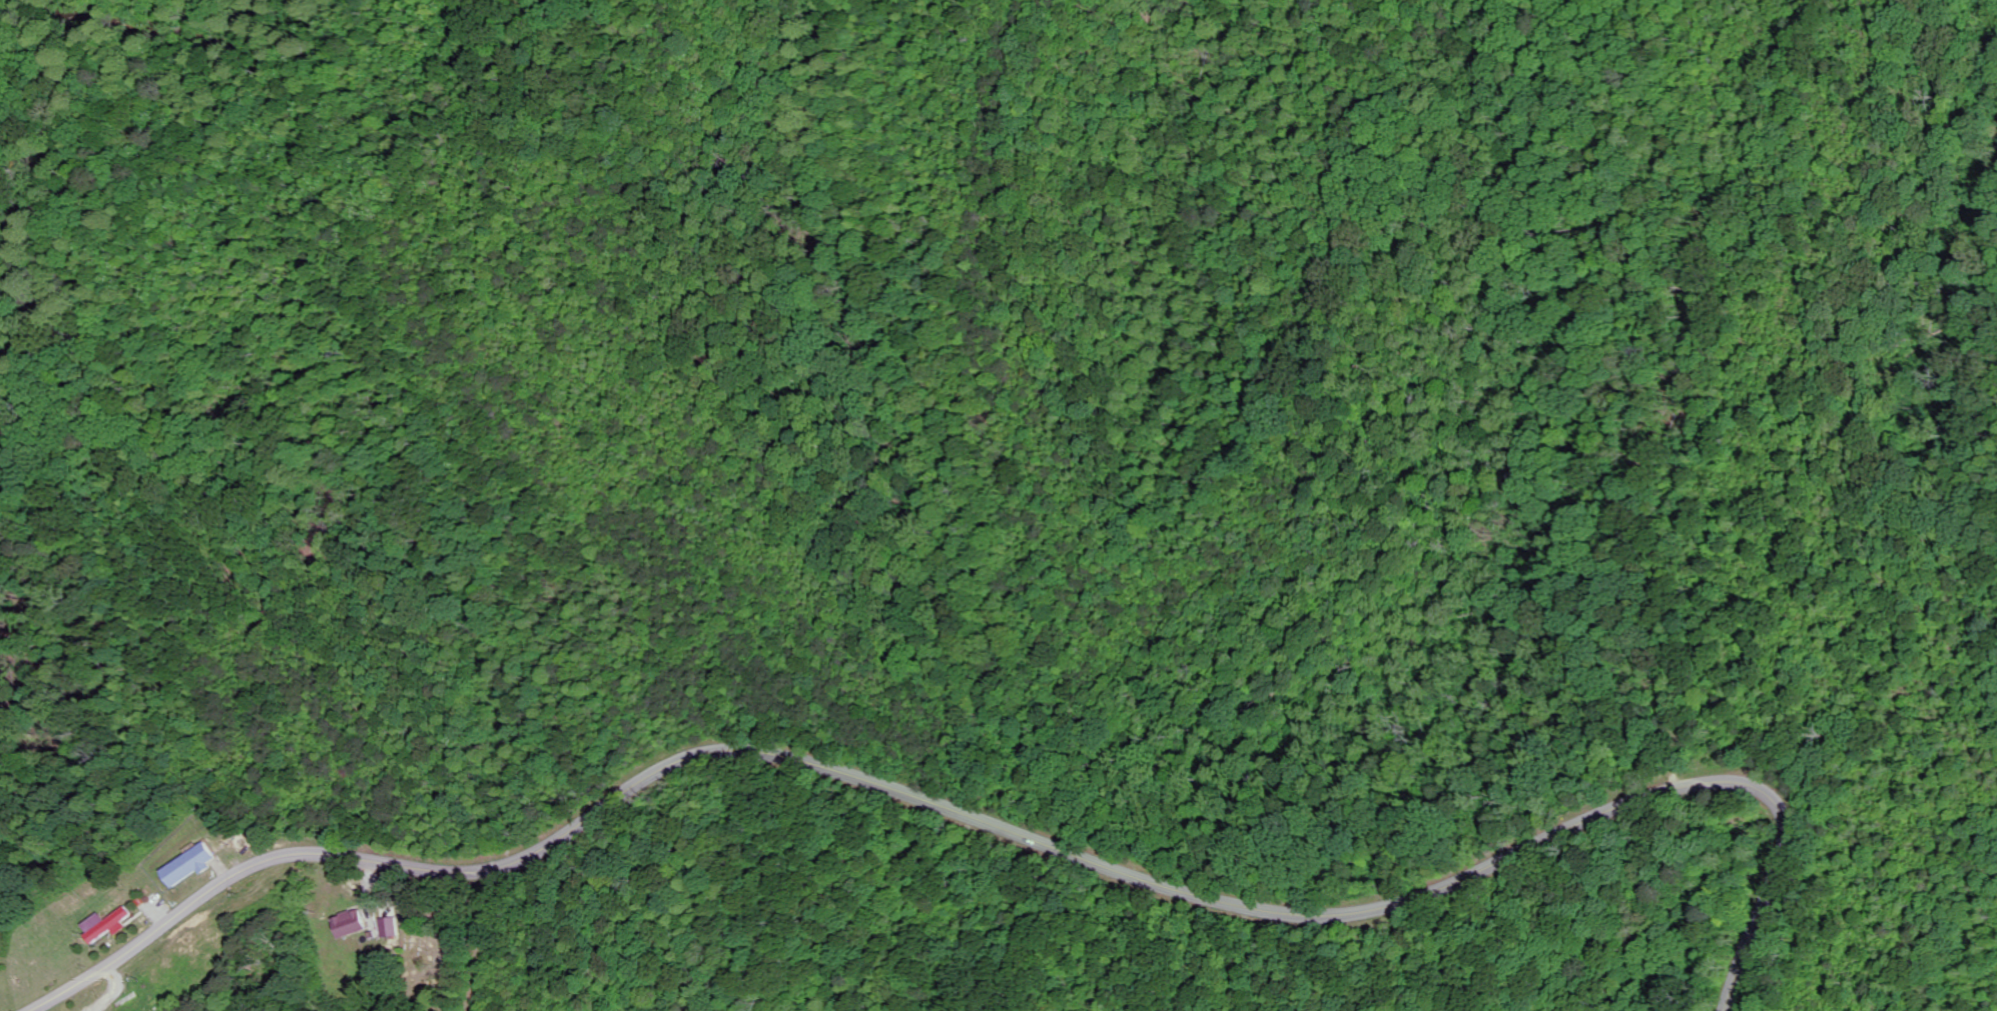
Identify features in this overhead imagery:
road: (994, 827)
building: (190, 866)
road: (432, 918)
building: (372, 922)
building: (349, 924)
building: (108, 925)
building: (391, 928)

